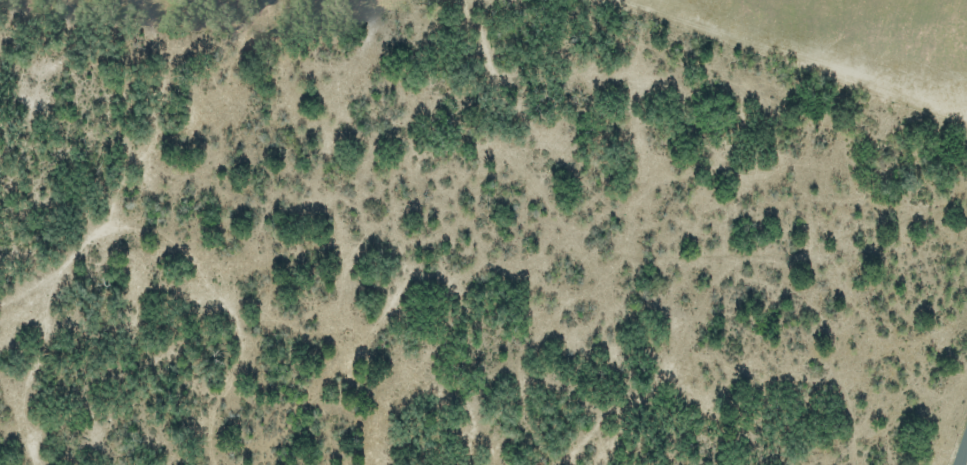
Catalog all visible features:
road: (966, 462)

